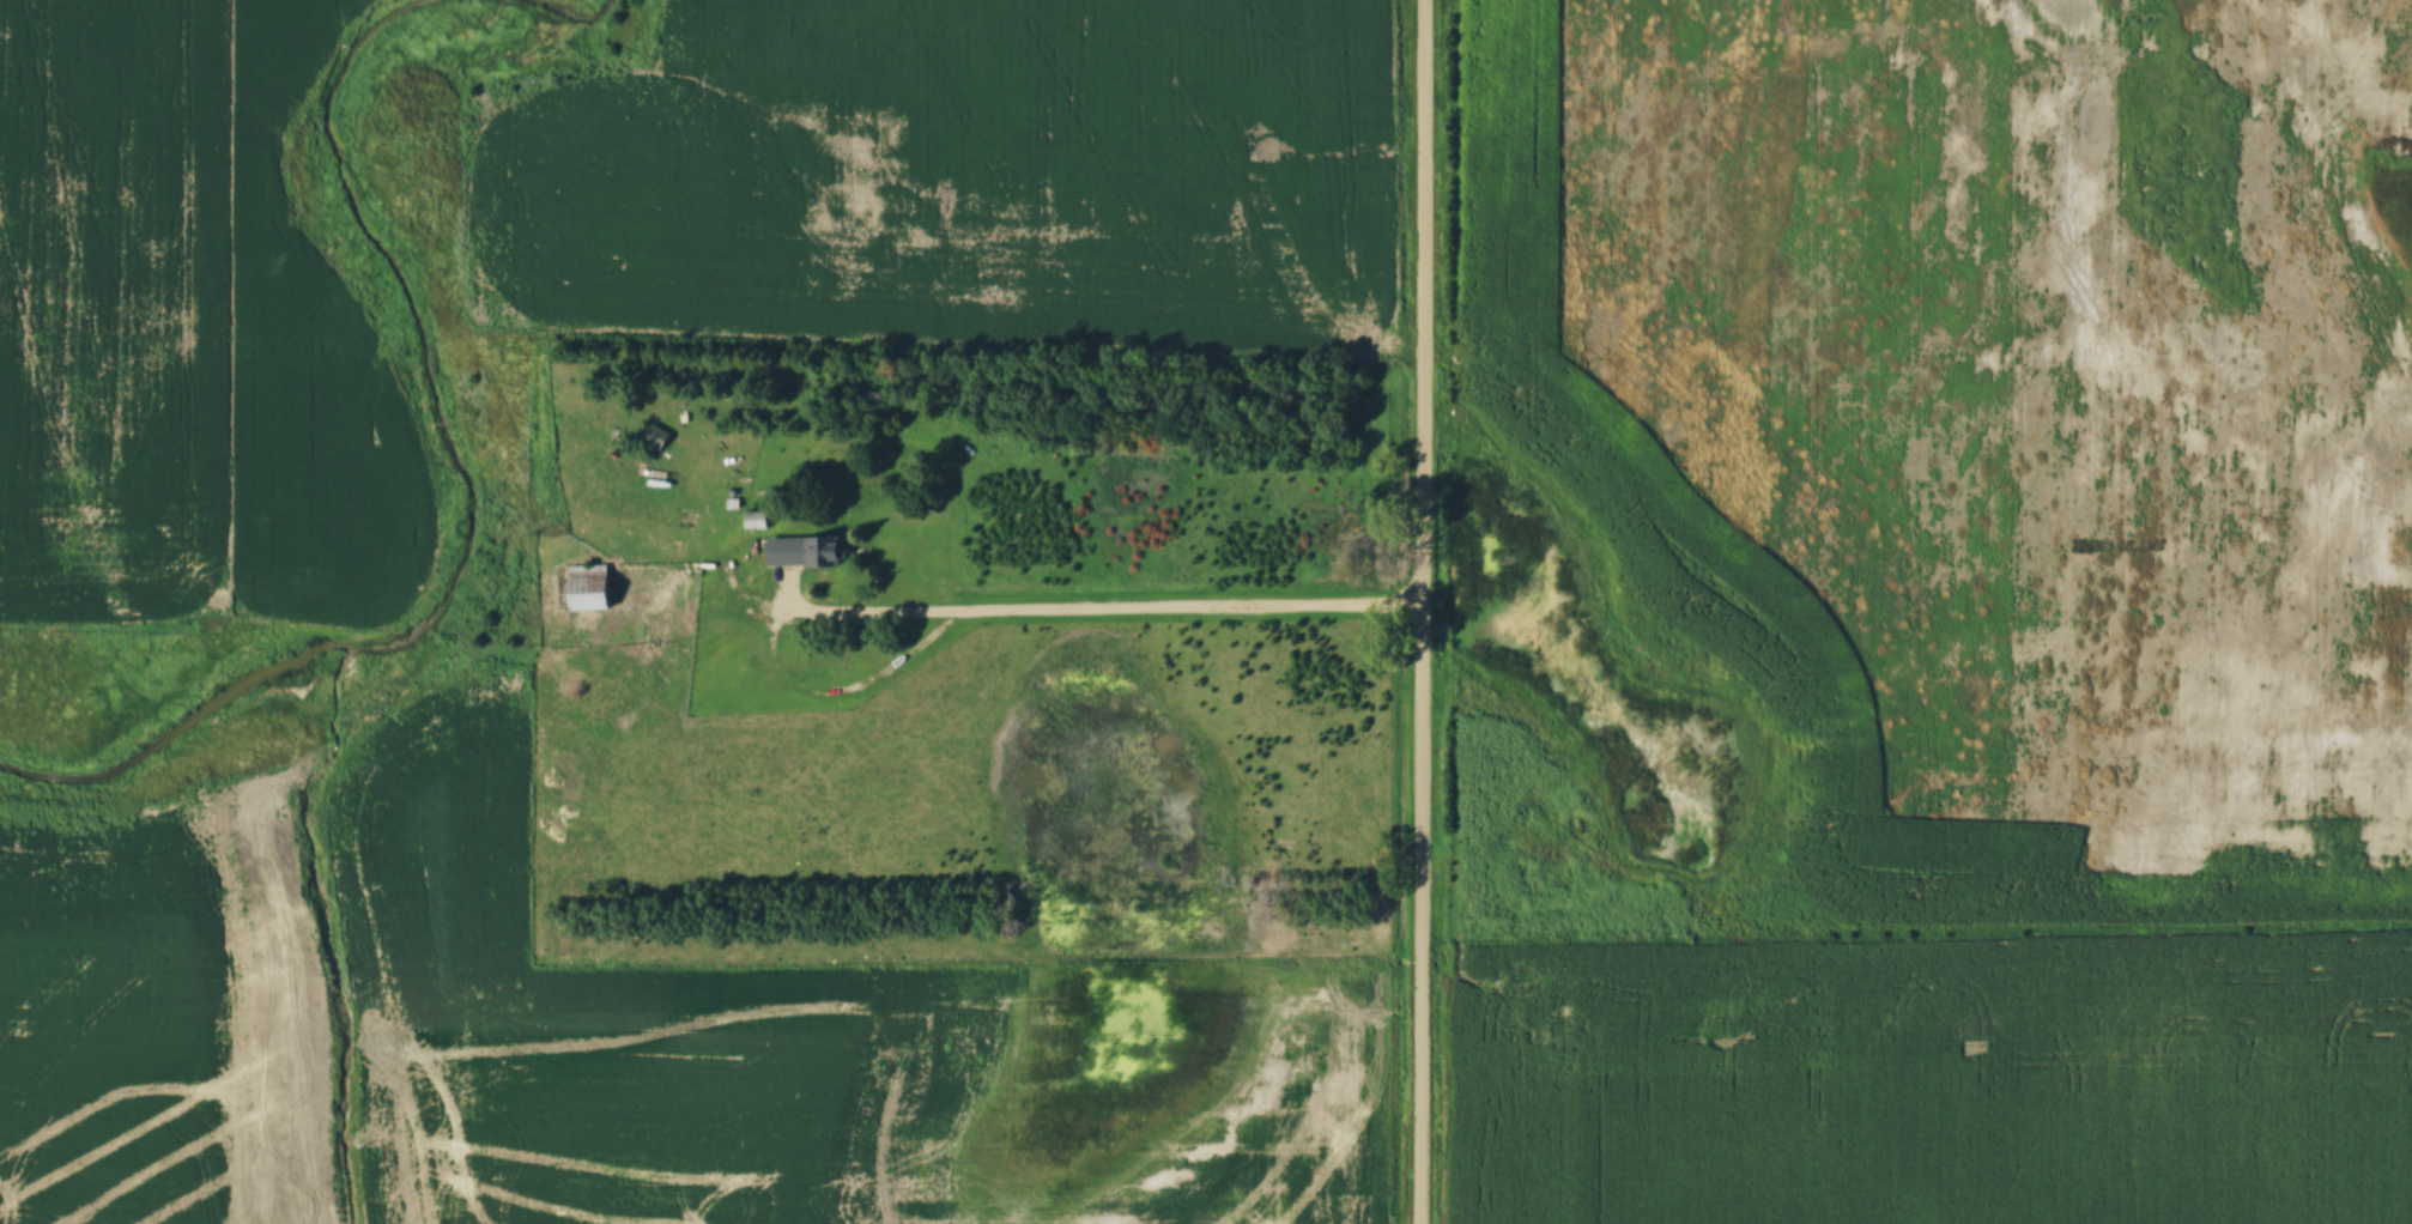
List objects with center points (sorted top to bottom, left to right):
road: (1423, 302)
building: (757, 521)
building: (807, 553)
building: (592, 588)
road: (1192, 605)
road: (775, 637)
road: (1422, 914)

